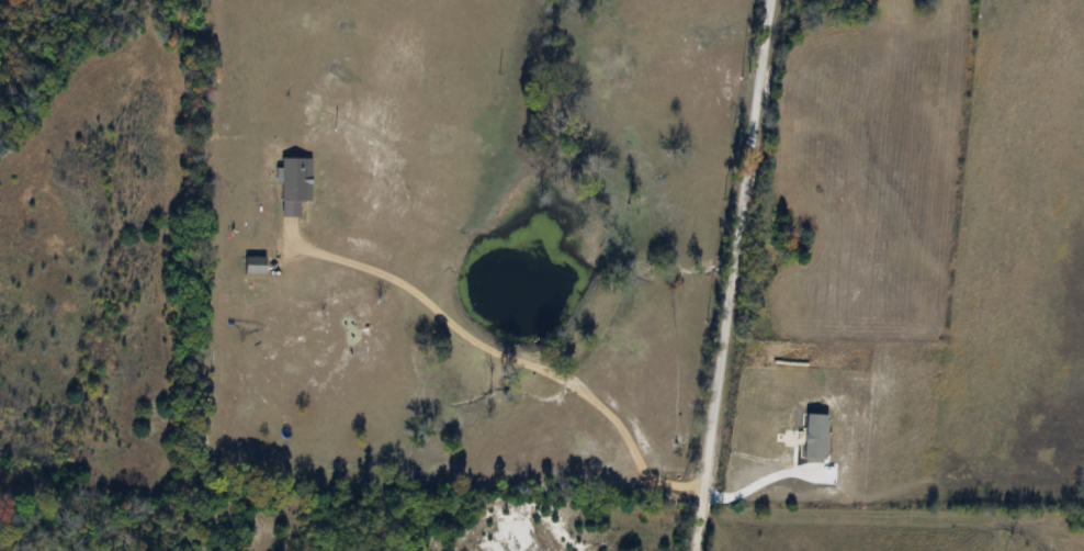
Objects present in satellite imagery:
road: (730, 274)
road: (508, 356)
road: (754, 485)

